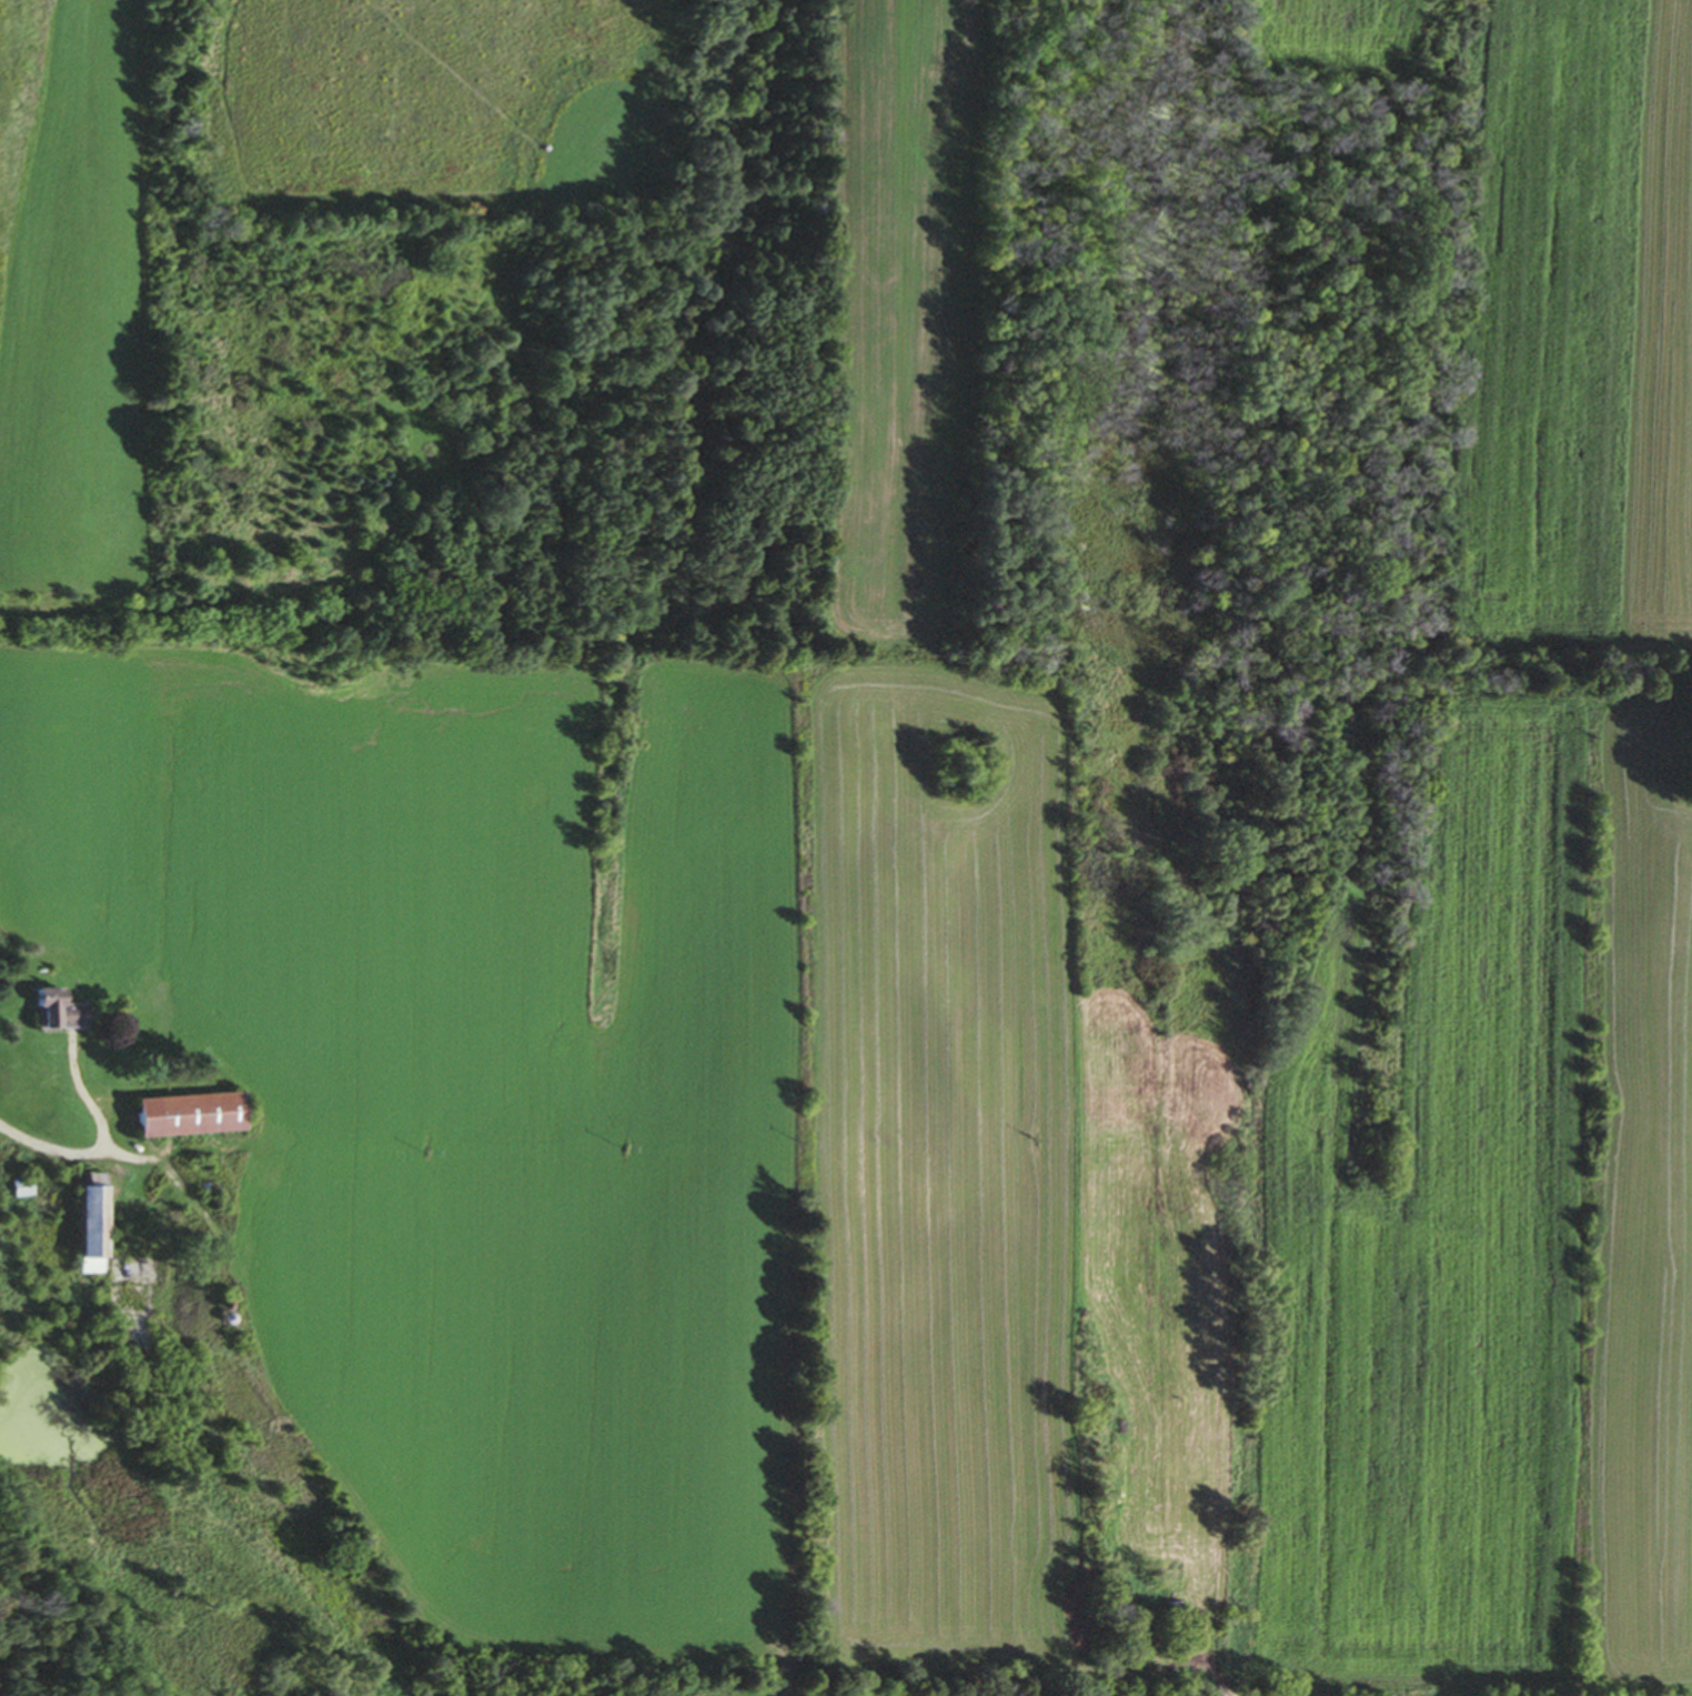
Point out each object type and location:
building: (53, 1013)
road: (85, 1097)
building: (182, 1116)
road: (54, 1150)
road: (134, 1158)
building: (23, 1188)
building: (87, 1224)

